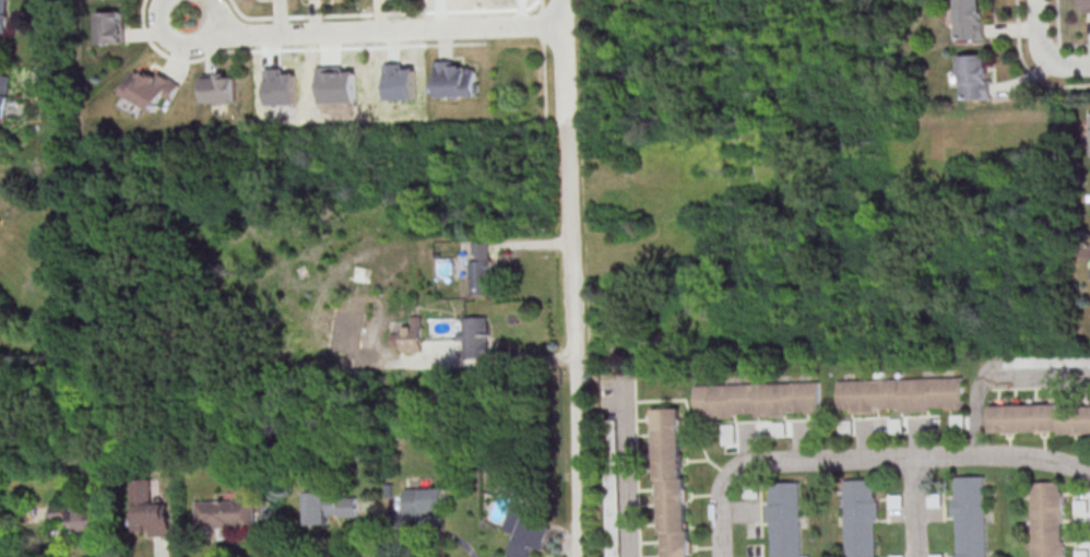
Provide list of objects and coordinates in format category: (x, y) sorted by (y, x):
building: (1086, 5)
building: (3, 16)
building: (970, 19)
road: (1058, 23)
road: (388, 27)
building: (112, 28)
road: (1041, 34)
road: (187, 38)
road: (1073, 45)
road: (1028, 67)
road: (1066, 68)
building: (974, 75)
building: (455, 79)
building: (401, 82)
building: (336, 84)
building: (281, 86)
building: (220, 87)
building: (150, 88)
building: (4, 93)
road: (570, 176)
building: (479, 266)
building: (1089, 266)
building: (410, 335)
building: (475, 337)
road: (500, 358)
road: (995, 372)
building: (901, 393)
building: (757, 399)
building: (1040, 418)
road: (576, 455)
road: (868, 459)
road: (627, 475)
building: (672, 482)
building: (424, 499)
building: (330, 505)
road: (919, 507)
building: (151, 510)
building: (225, 512)
building: (971, 515)
building: (75, 518)
building: (861, 518)
building: (785, 519)
building: (1047, 519)
building: (530, 537)

